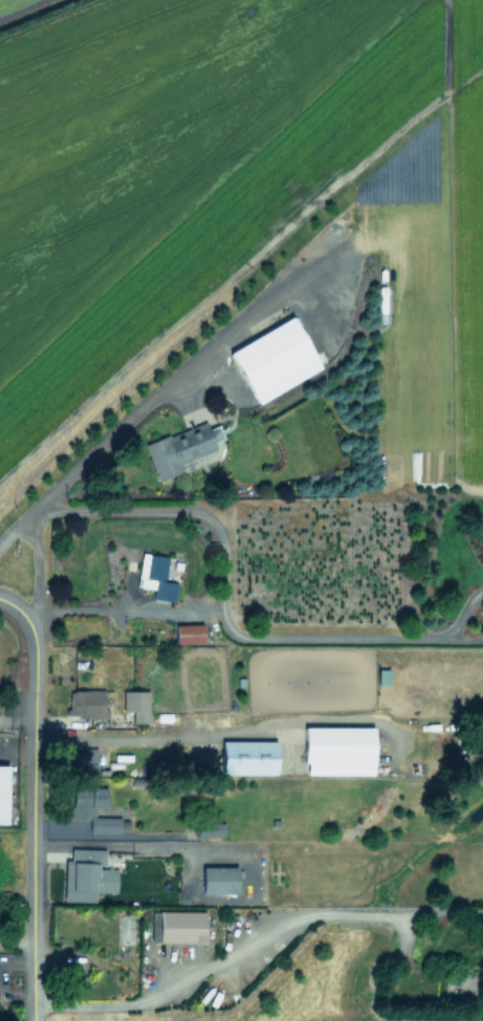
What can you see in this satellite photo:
crop: (243, 211)
building: (274, 359)
road: (153, 398)
building: (180, 448)
building: (481, 533)
road: (35, 571)
building: (156, 577)
road: (223, 592)
road: (87, 609)
road: (463, 614)
building: (188, 633)
road: (463, 639)
building: (86, 703)
building: (136, 705)
road: (161, 737)
building: (338, 749)
building: (247, 756)
building: (86, 758)
building: (3, 793)
road: (31, 802)
building: (92, 809)
building: (209, 829)
road: (121, 844)
building: (87, 875)
building: (218, 880)
building: (177, 926)
road: (249, 943)

